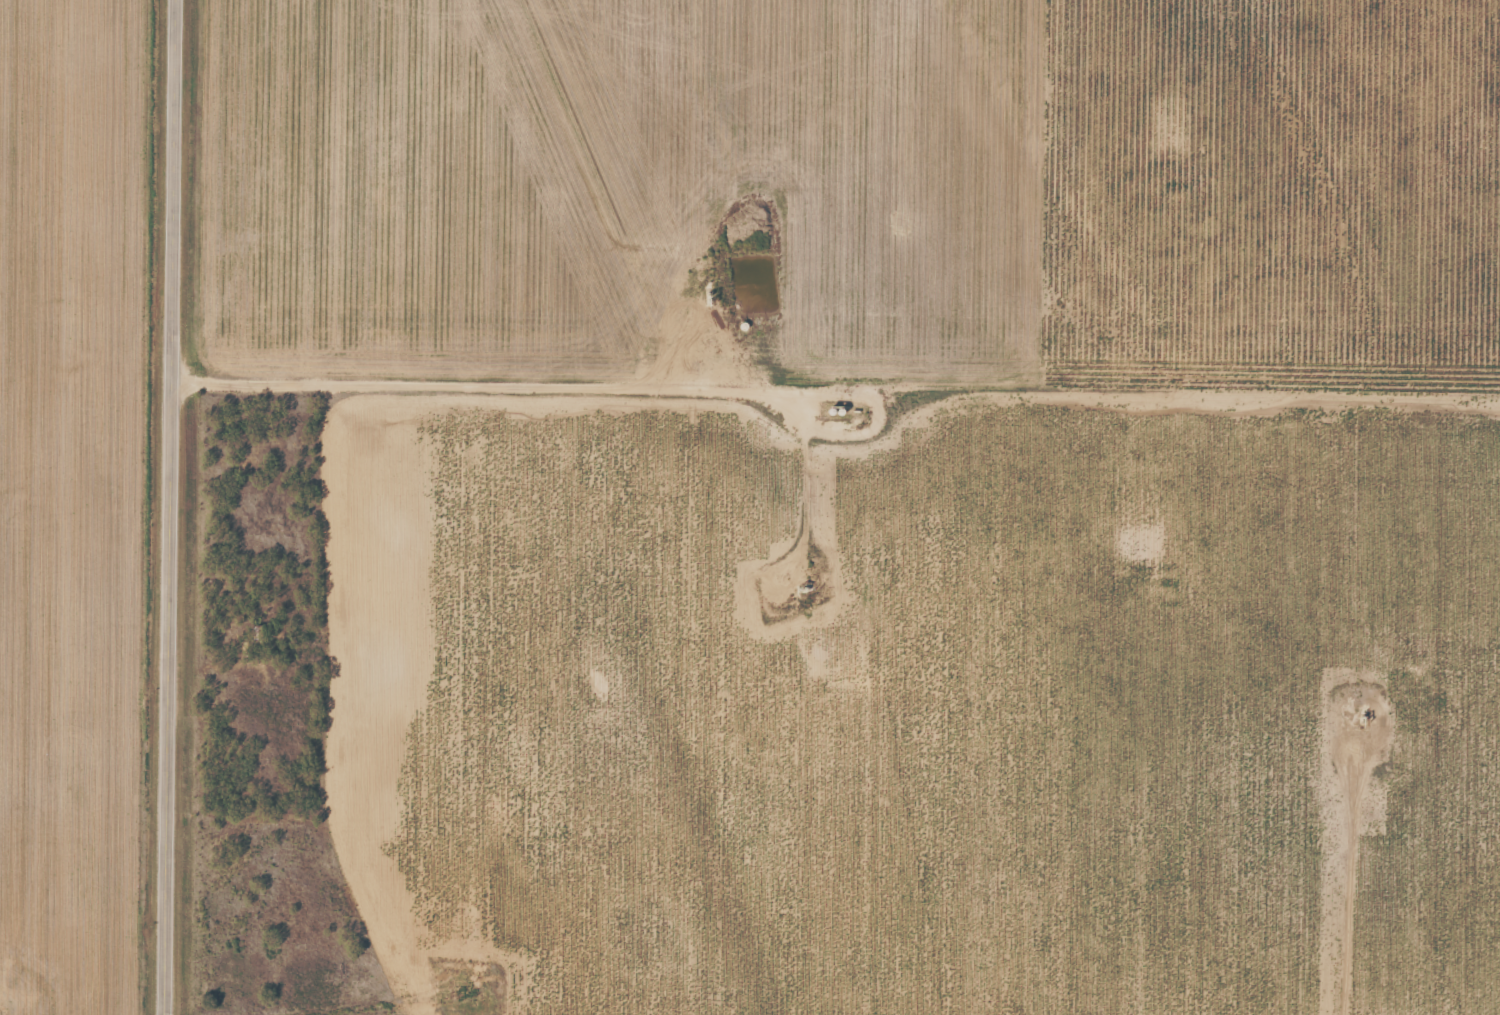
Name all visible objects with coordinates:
road: (734, 387)
road: (172, 507)
road: (332, 534)

